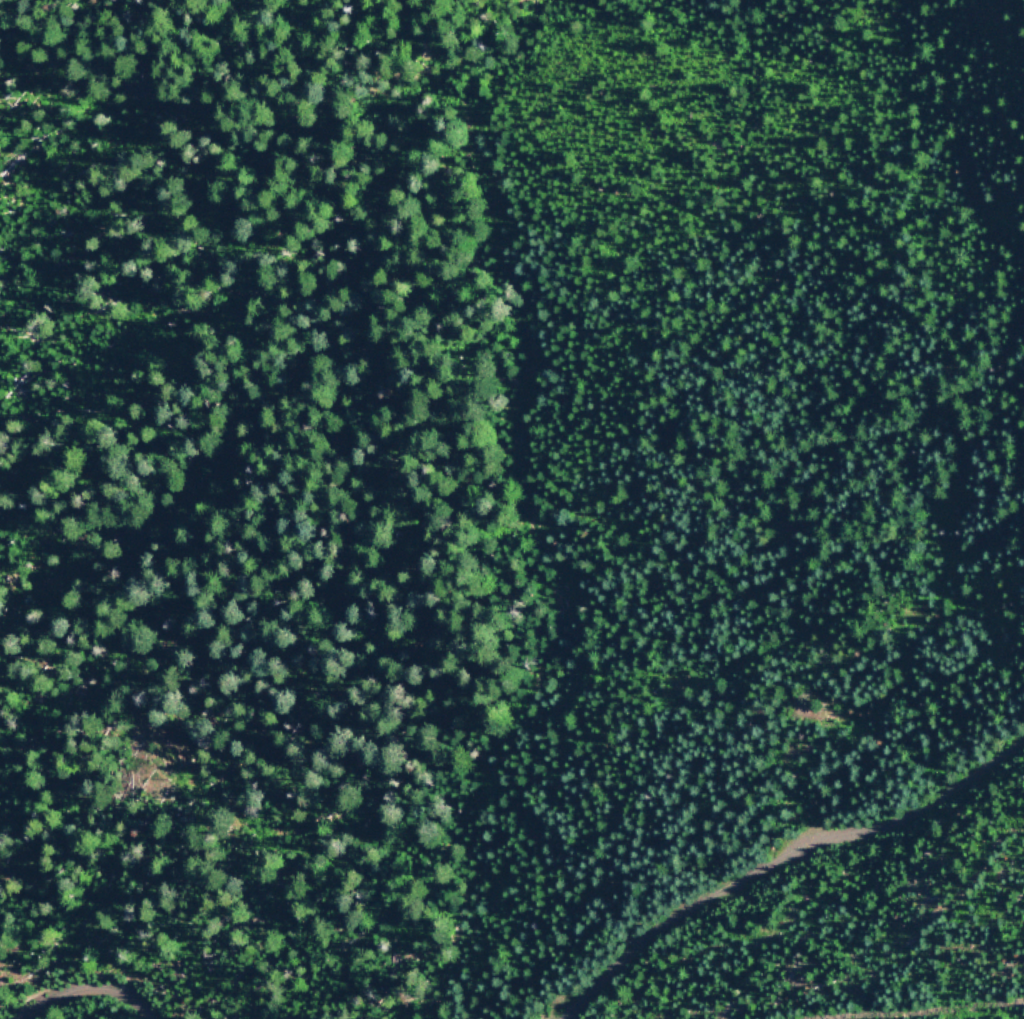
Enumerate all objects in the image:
road: (777, 867)
road: (83, 990)

